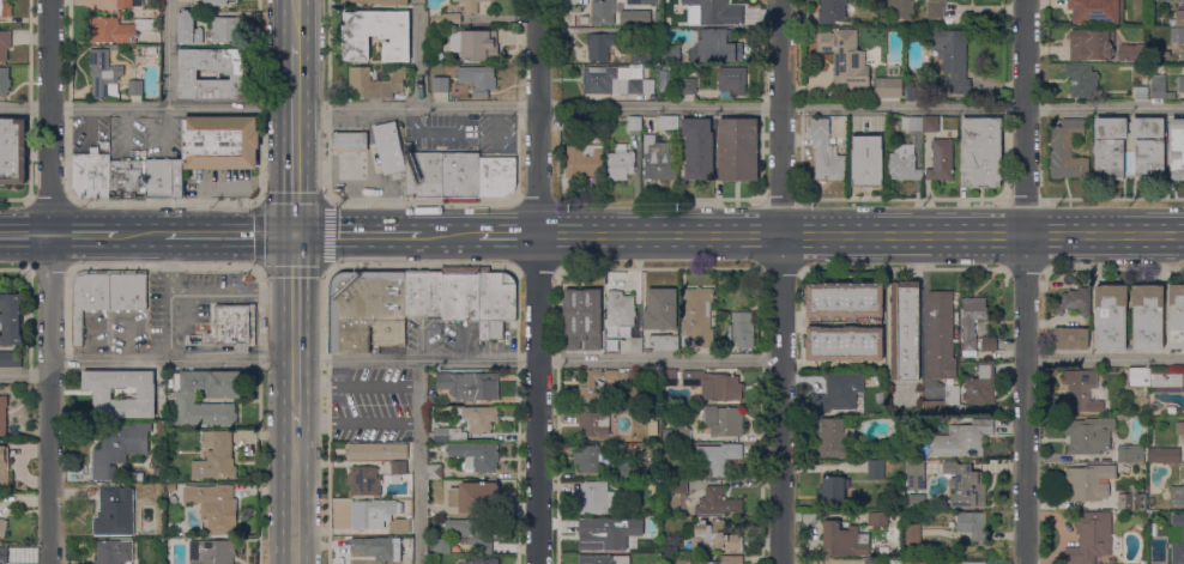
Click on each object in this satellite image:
building: (185, 0)
road: (419, 1)
building: (636, 1)
building: (944, 1)
building: (215, 2)
building: (381, 2)
building: (648, 2)
building: (129, 4)
building: (470, 5)
building: (5, 7)
building: (895, 8)
building: (935, 10)
building: (832, 11)
building: (1095, 11)
building: (603, 12)
building: (713, 12)
building: (634, 17)
building: (448, 18)
building: (1178, 19)
road: (295, 23)
building: (1064, 23)
building: (187, 29)
building: (225, 29)
building: (110, 31)
building: (653, 31)
building: (376, 35)
building: (1177, 35)
building: (5, 44)
building: (475, 44)
building: (1091, 44)
building: (602, 46)
building: (715, 47)
building: (153, 51)
building: (1128, 53)
road: (169, 54)
building: (670, 54)
road: (419, 55)
building: (437, 55)
building: (640, 55)
building: (1182, 55)
building: (99, 57)
building: (845, 57)
building: (953, 57)
building: (236, 74)
building: (478, 79)
building: (731, 79)
building: (614, 80)
building: (1081, 80)
building: (4, 81)
building: (105, 81)
building: (375, 84)
building: (1179, 84)
building: (440, 85)
building: (687, 86)
building: (134, 87)
building: (887, 87)
building: (1158, 87)
building: (1141, 93)
road: (591, 108)
building: (634, 123)
building: (667, 123)
building: (912, 123)
building: (930, 125)
road: (296, 139)
building: (349, 141)
building: (219, 142)
building: (104, 145)
building: (388, 147)
building: (697, 148)
building: (737, 148)
building: (1177, 150)
building: (12, 151)
building: (864, 151)
building: (1067, 151)
building: (826, 152)
building: (980, 152)
building: (1109, 158)
building: (585, 160)
building: (657, 160)
building: (941, 160)
building: (620, 163)
building: (902, 163)
building: (90, 175)
building: (423, 175)
building: (460, 175)
building: (497, 176)
building: (127, 178)
building: (164, 178)
road: (225, 184)
road: (761, 188)
road: (260, 195)
road: (326, 199)
road: (332, 199)
road: (779, 199)
road: (900, 199)
road: (1023, 199)
road: (1112, 199)
road: (228, 234)
traffic signals: (295, 234)
road: (362, 234)
road: (505, 234)
road: (586, 234)
road: (1176, 234)
road: (25, 235)
road: (84, 235)
road: (139, 235)
road: (452, 235)
road: (659, 235)
road: (731, 235)
road: (832, 235)
road: (901, 235)
road: (972, 235)
road: (1075, 235)
road: (1147, 235)
road: (169, 263)
road: (423, 265)
road: (163, 266)
road: (47, 268)
road: (536, 268)
road: (657, 268)
road: (779, 268)
road: (902, 268)
road: (1025, 268)
road: (1113, 268)
road: (14, 269)
road: (50, 281)
road: (537, 281)
road: (781, 281)
road: (1025, 281)
building: (128, 290)
road: (231, 293)
building: (423, 293)
building: (460, 293)
building: (89, 297)
building: (844, 299)
building: (1075, 302)
building: (496, 303)
building: (620, 308)
building: (660, 309)
building: (366, 310)
building: (1111, 316)
building: (1147, 316)
building: (1176, 316)
building: (10, 317)
building: (697, 319)
building: (581, 320)
building: (972, 322)
building: (230, 326)
road: (169, 327)
road: (295, 330)
building: (741, 330)
building: (905, 330)
building: (941, 335)
building: (1071, 338)
building: (664, 341)
building: (845, 342)
building: (986, 344)
building: (634, 345)
building: (608, 348)
building: (11, 359)
road: (1104, 359)
road: (416, 360)
building: (963, 366)
road: (24, 375)
building: (640, 377)
building: (670, 377)
building: (1155, 377)
building: (469, 386)
building: (714, 386)
building: (981, 386)
building: (587, 388)
building: (1081, 392)
building: (840, 393)
building: (145, 395)
building: (952, 395)
building: (433, 399)
building: (186, 401)
building: (962, 410)
building: (1171, 411)
road: (327, 414)
building: (2, 416)
building: (479, 418)
building: (724, 420)
building: (592, 422)
building: (1179, 429)
building: (682, 433)
building: (448, 435)
building: (1089, 436)
building: (834, 438)
building: (962, 439)
building: (119, 449)
building: (376, 451)
building: (1130, 454)
building: (1164, 455)
building: (216, 456)
building: (476, 456)
building: (433, 457)
building: (717, 457)
building: (590, 459)
road: (418, 462)
building: (4, 467)
building: (875, 469)
building: (398, 472)
building: (435, 472)
building: (626, 472)
building: (916, 474)
building: (364, 481)
building: (1089, 483)
building: (666, 485)
building: (678, 486)
building: (967, 487)
building: (833, 489)
building: (1177, 492)
road: (295, 496)
building: (478, 497)
building: (596, 498)
building: (1125, 501)
building: (715, 503)
building: (908, 504)
building: (218, 509)
building: (434, 509)
building: (113, 514)
building: (377, 516)
building: (877, 518)
building: (972, 524)
building: (2, 527)
building: (472, 533)
building: (599, 533)
building: (912, 534)
building: (714, 536)
building: (1091, 538)
building: (844, 540)
building: (442, 545)
building: (379, 547)
building: (211, 551)
building: (108, 552)
building: (1179, 552)
building: (4, 556)
building: (603, 559)
building: (729, 559)
building: (483, 562)
building: (871, 562)
building: (974, 562)

